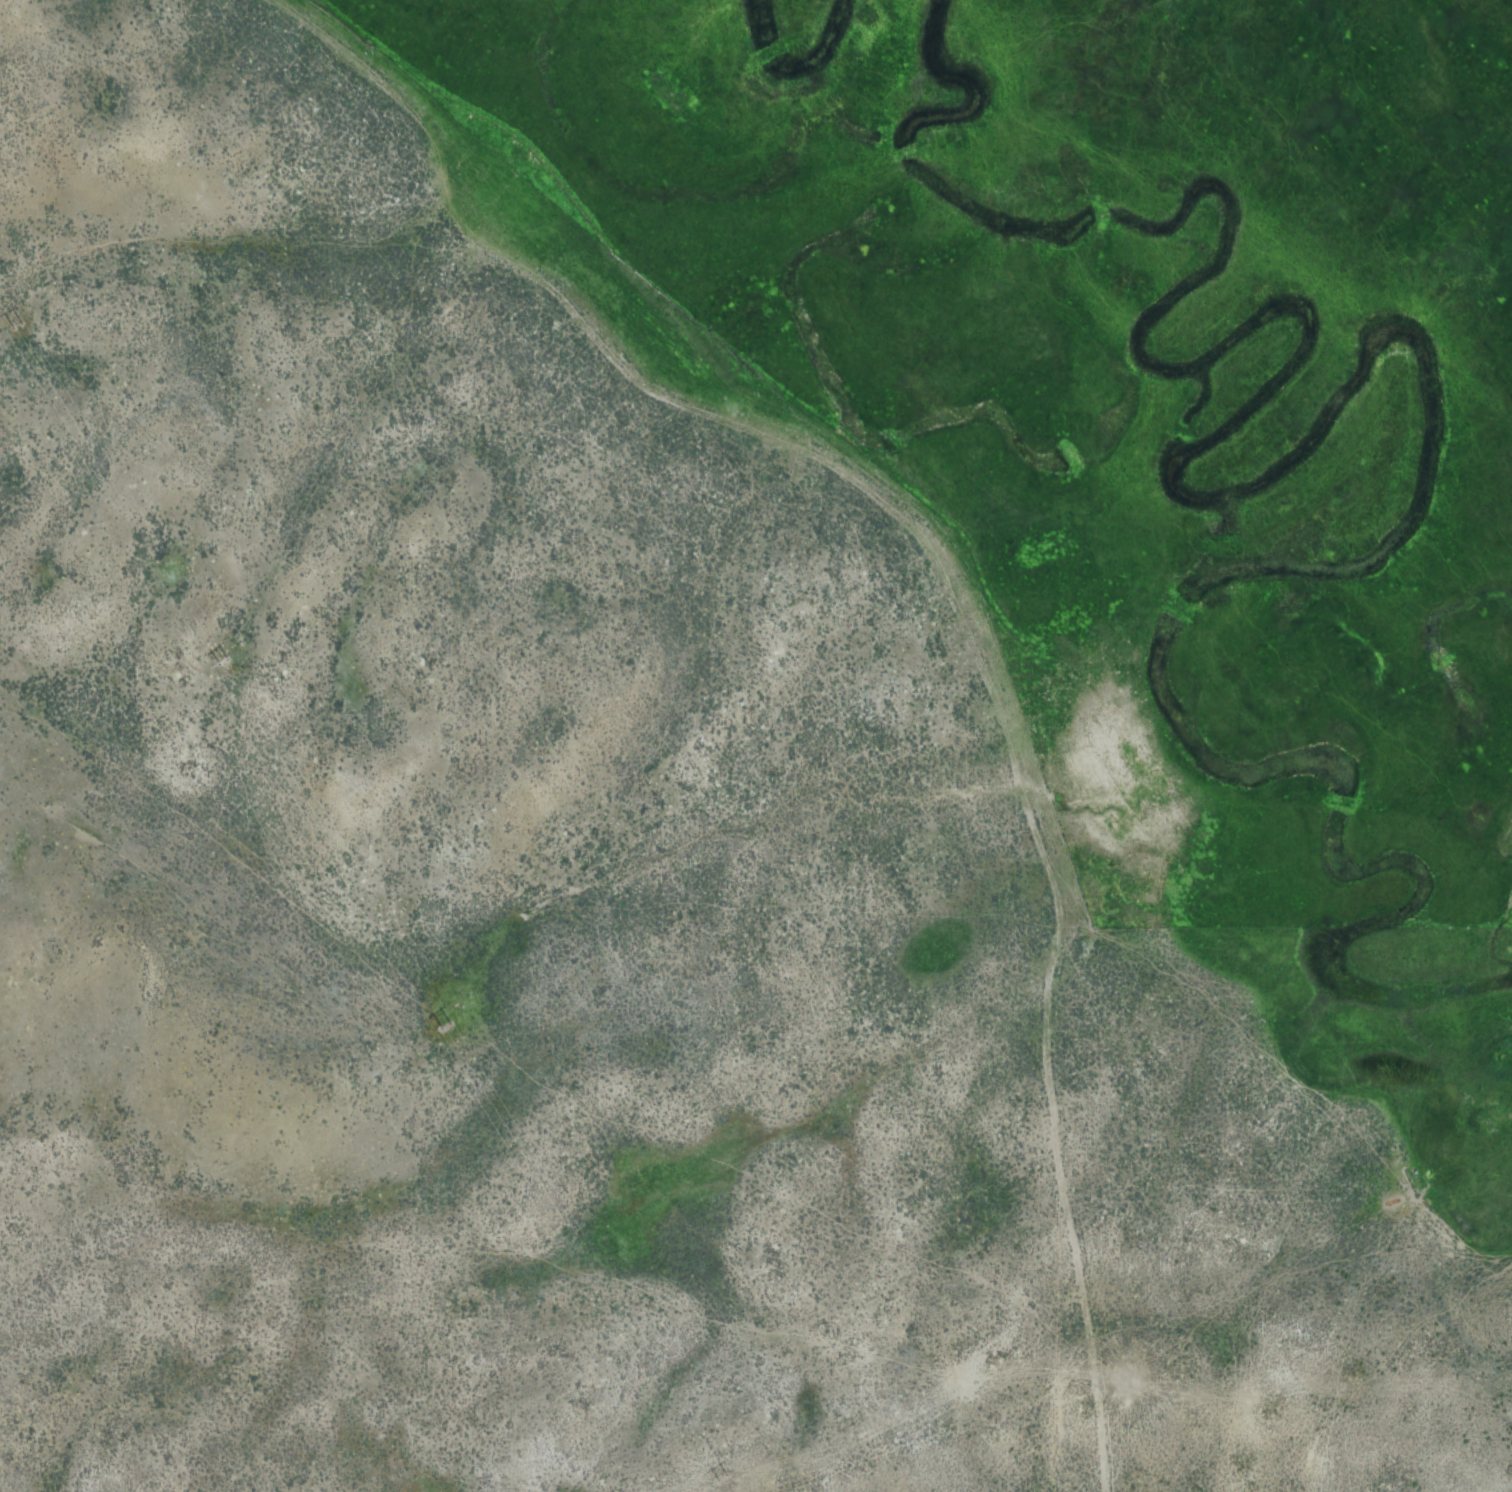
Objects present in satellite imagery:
power tower: (6, 332)
power tower: (216, 663)
power tower: (437, 1030)
power tower: (712, 1479)

